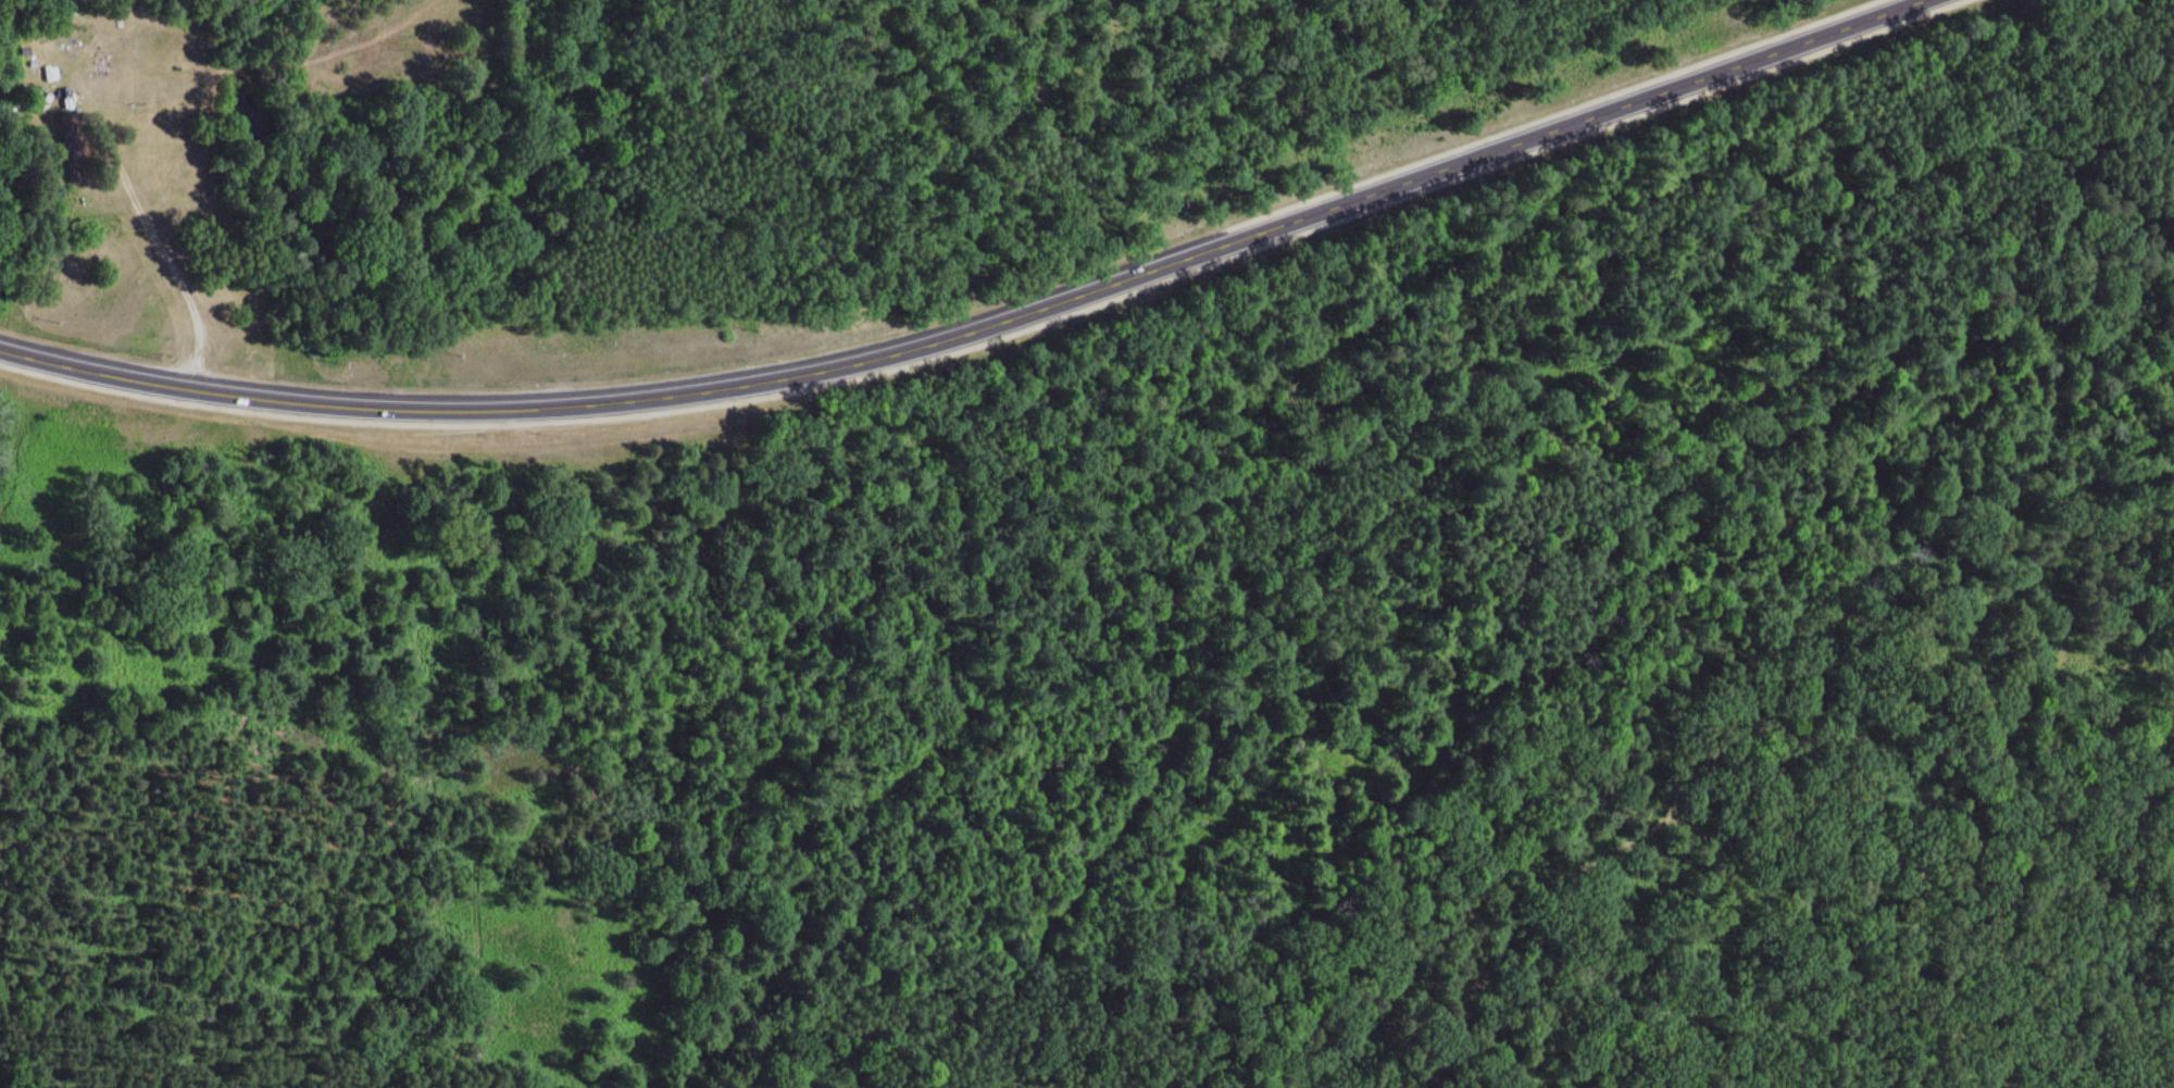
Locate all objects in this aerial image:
building: (73, 148)
road: (983, 327)
road: (1759, 725)

